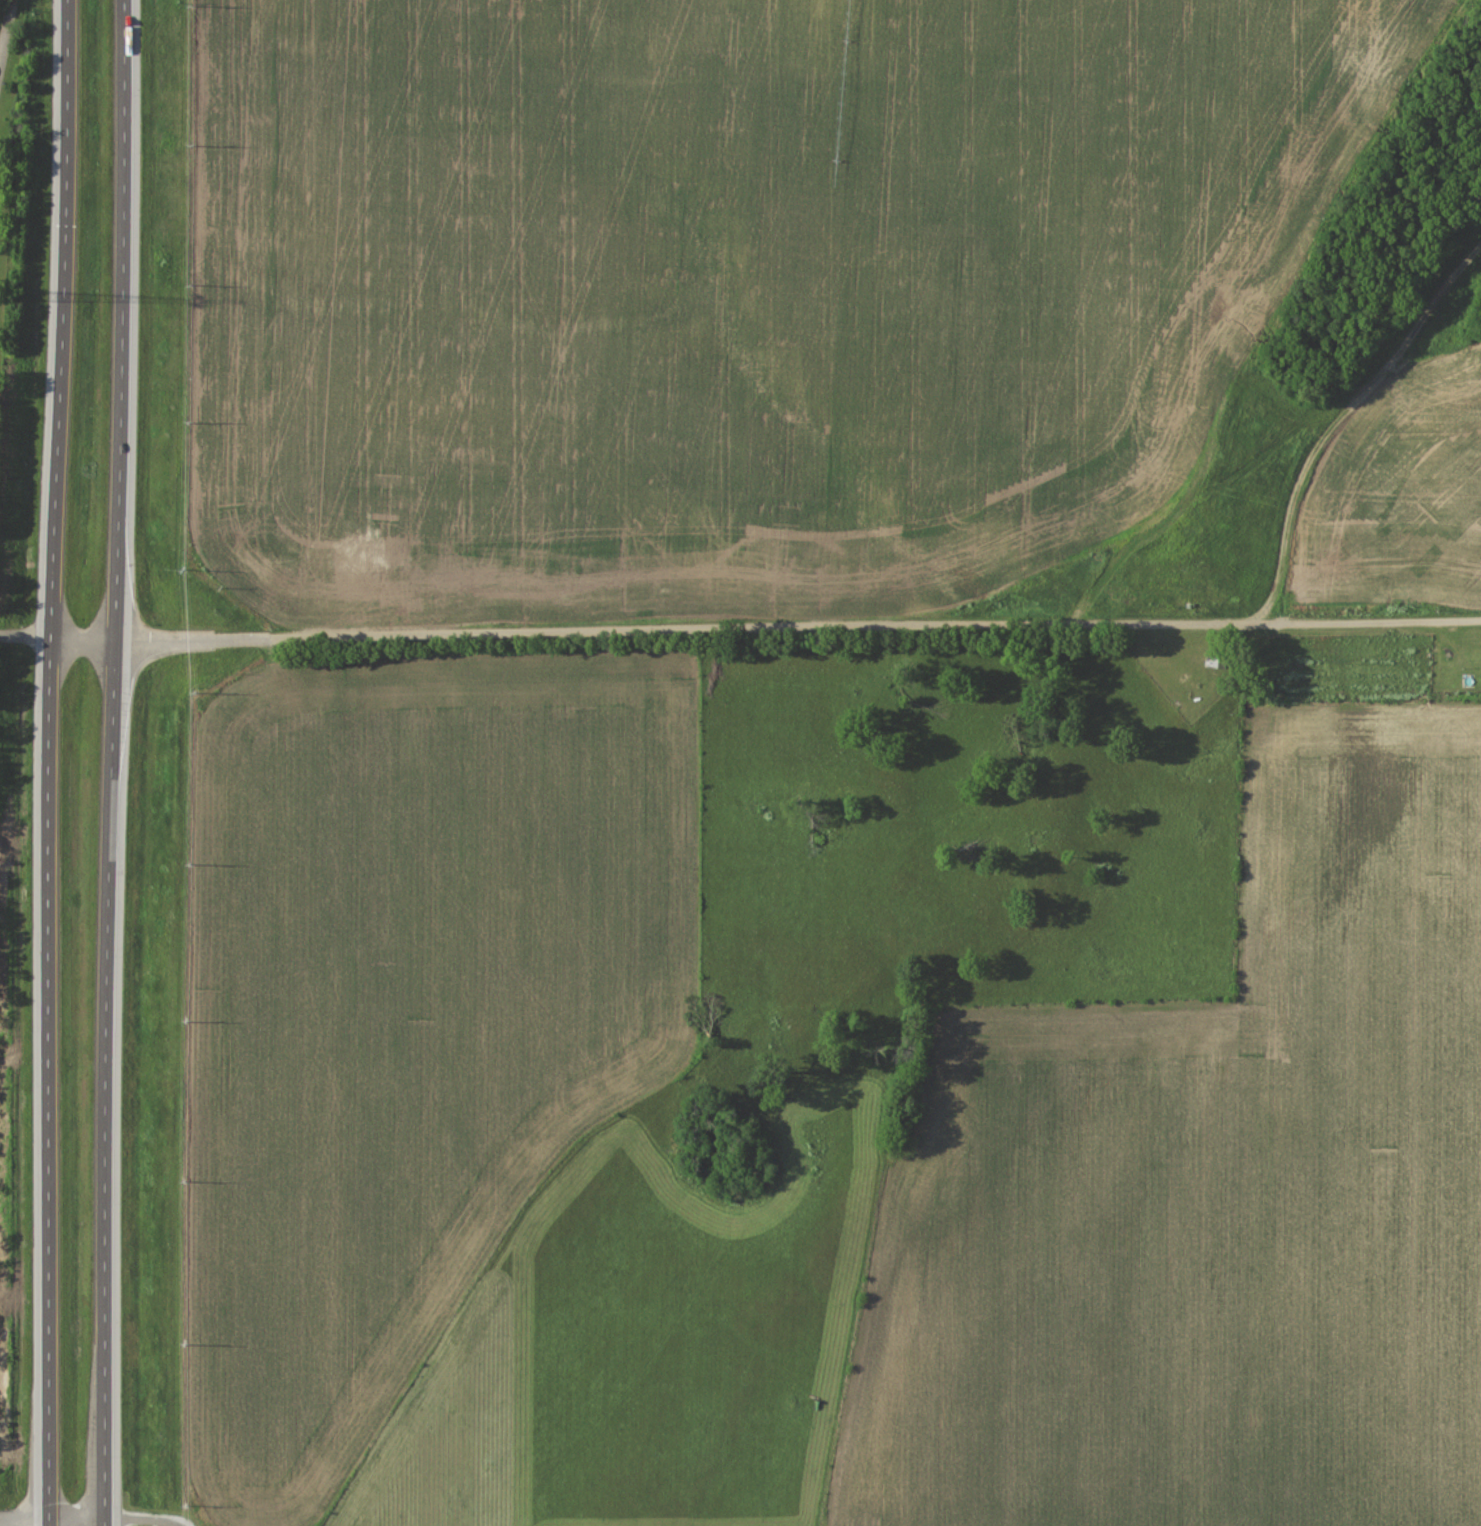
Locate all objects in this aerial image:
road: (1, 20)
road: (798, 631)
road: (58, 637)
building: (1216, 658)
road: (49, 762)
road: (113, 762)
road: (52, 1520)
road: (142, 1520)

